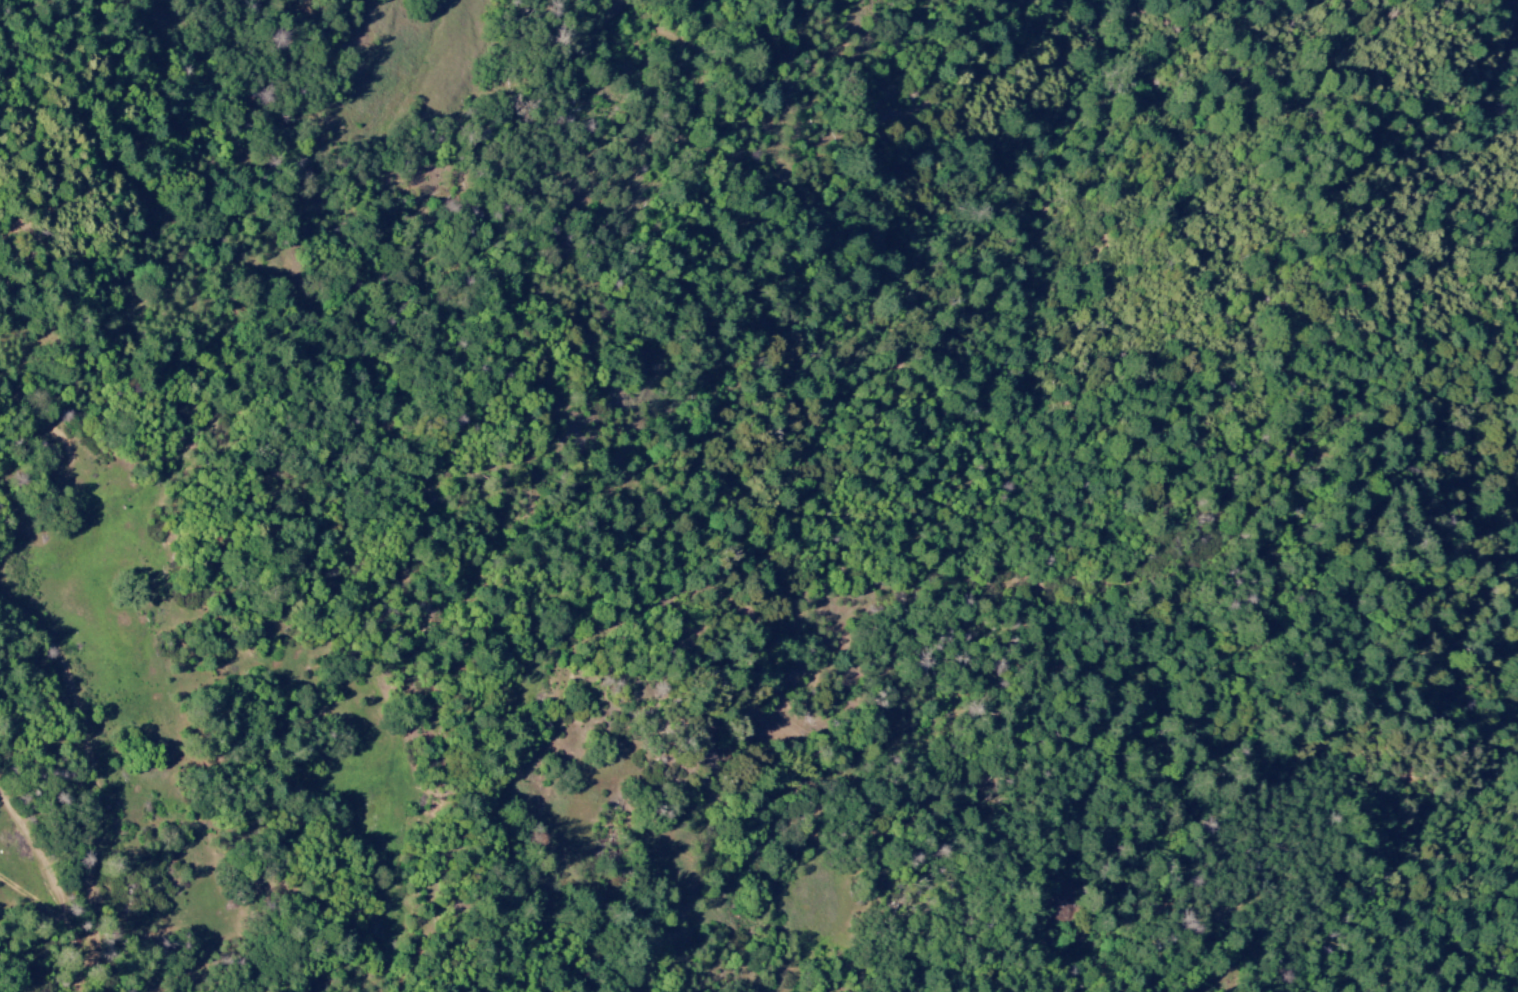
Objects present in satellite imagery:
road: (48, 636)
road: (55, 875)

